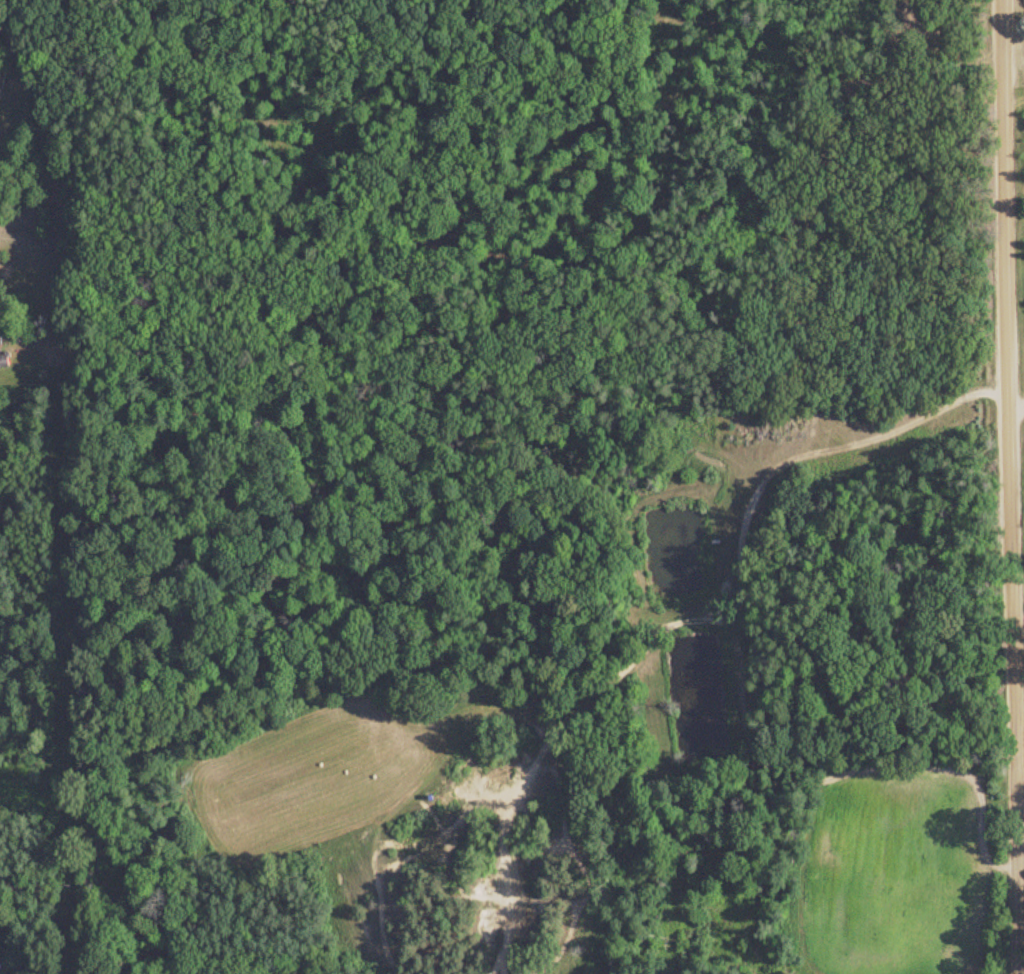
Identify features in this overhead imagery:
road: (9, 38)
road: (1014, 411)
road: (1006, 486)
road: (765, 566)
road: (1019, 961)

